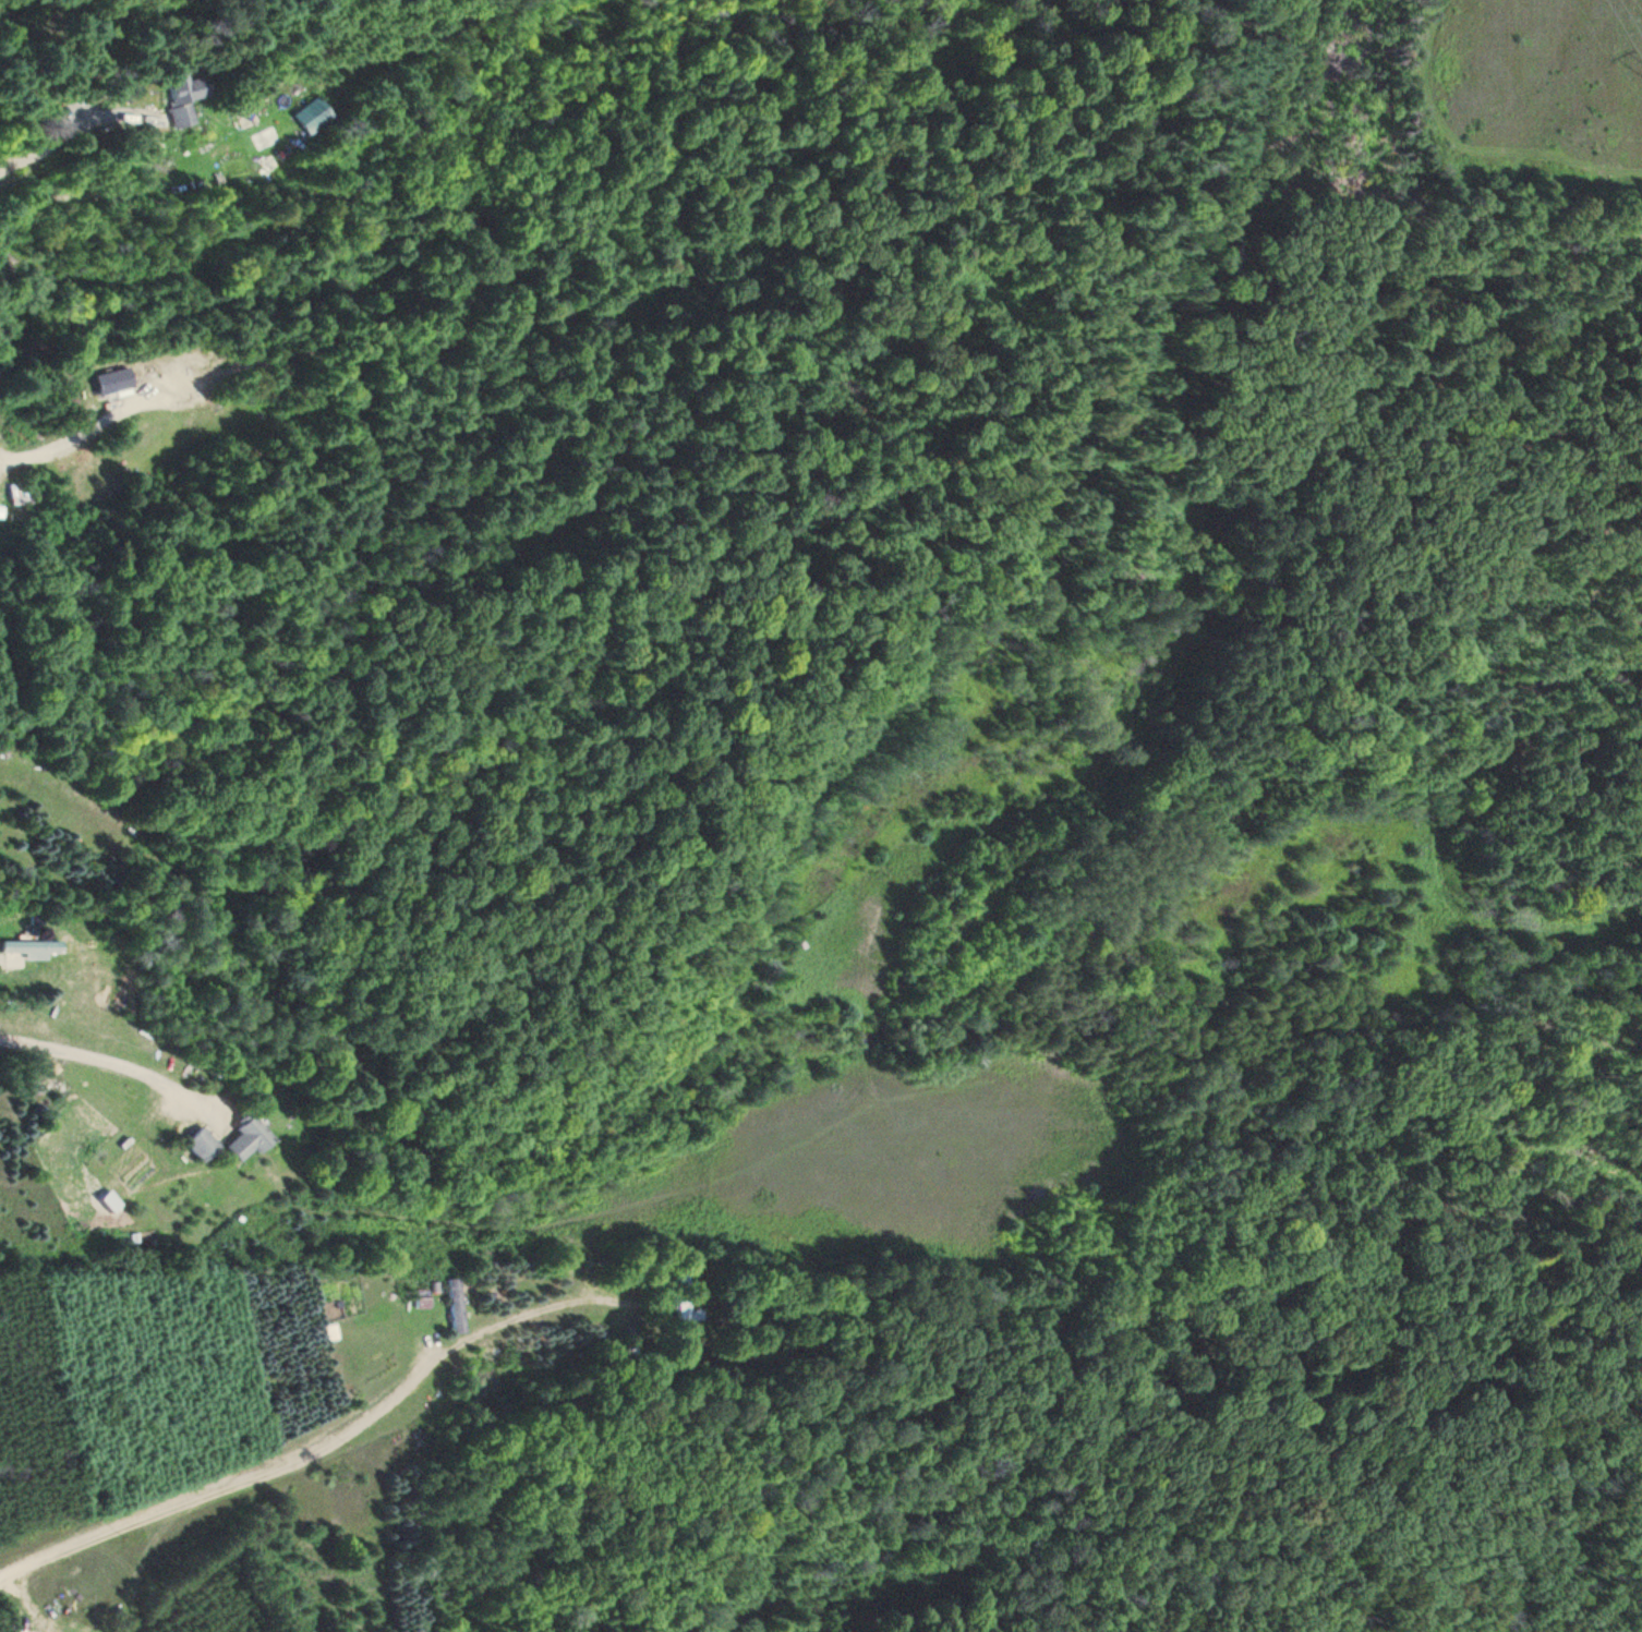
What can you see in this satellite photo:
building: (174, 98)
building: (312, 117)
road: (61, 128)
building: (102, 383)
road: (58, 457)
building: (15, 495)
building: (26, 951)
building: (242, 1138)
building: (195, 1145)
road: (587, 1277)
building: (686, 1302)
building: (449, 1309)
road: (351, 1441)

